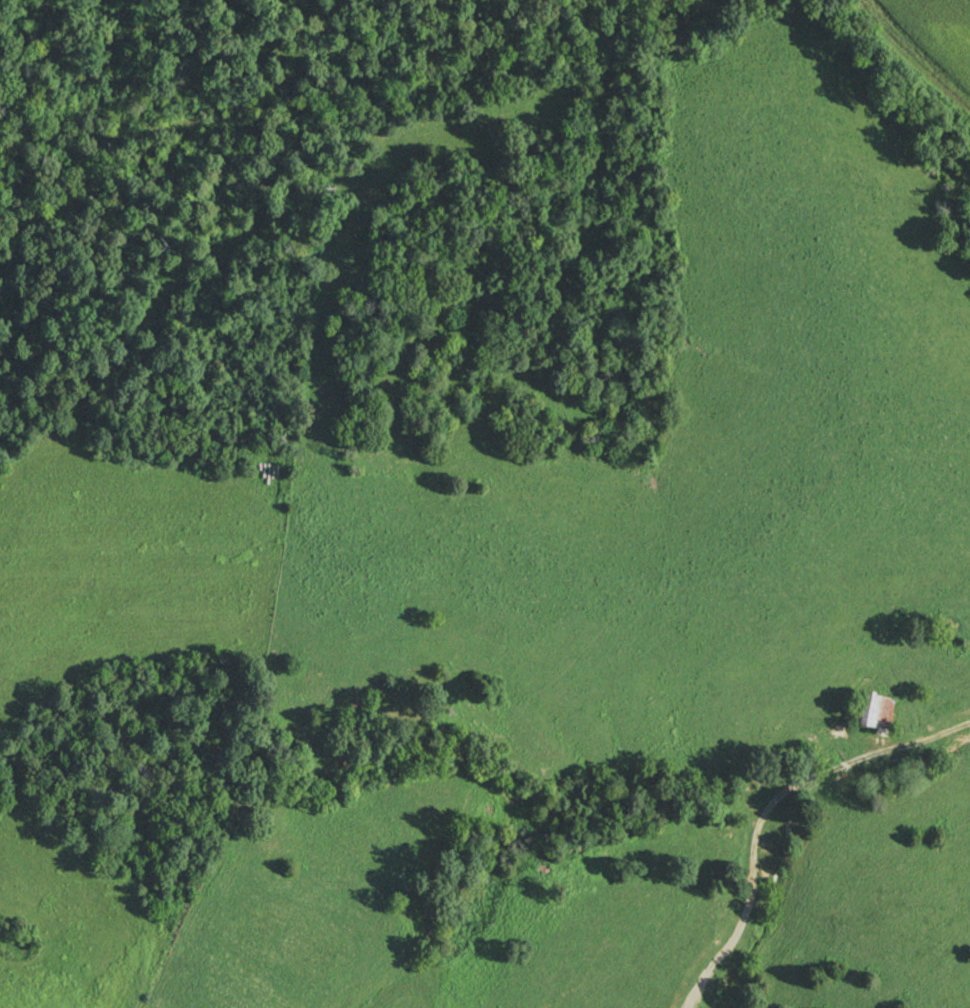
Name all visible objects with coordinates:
road: (773, 813)

